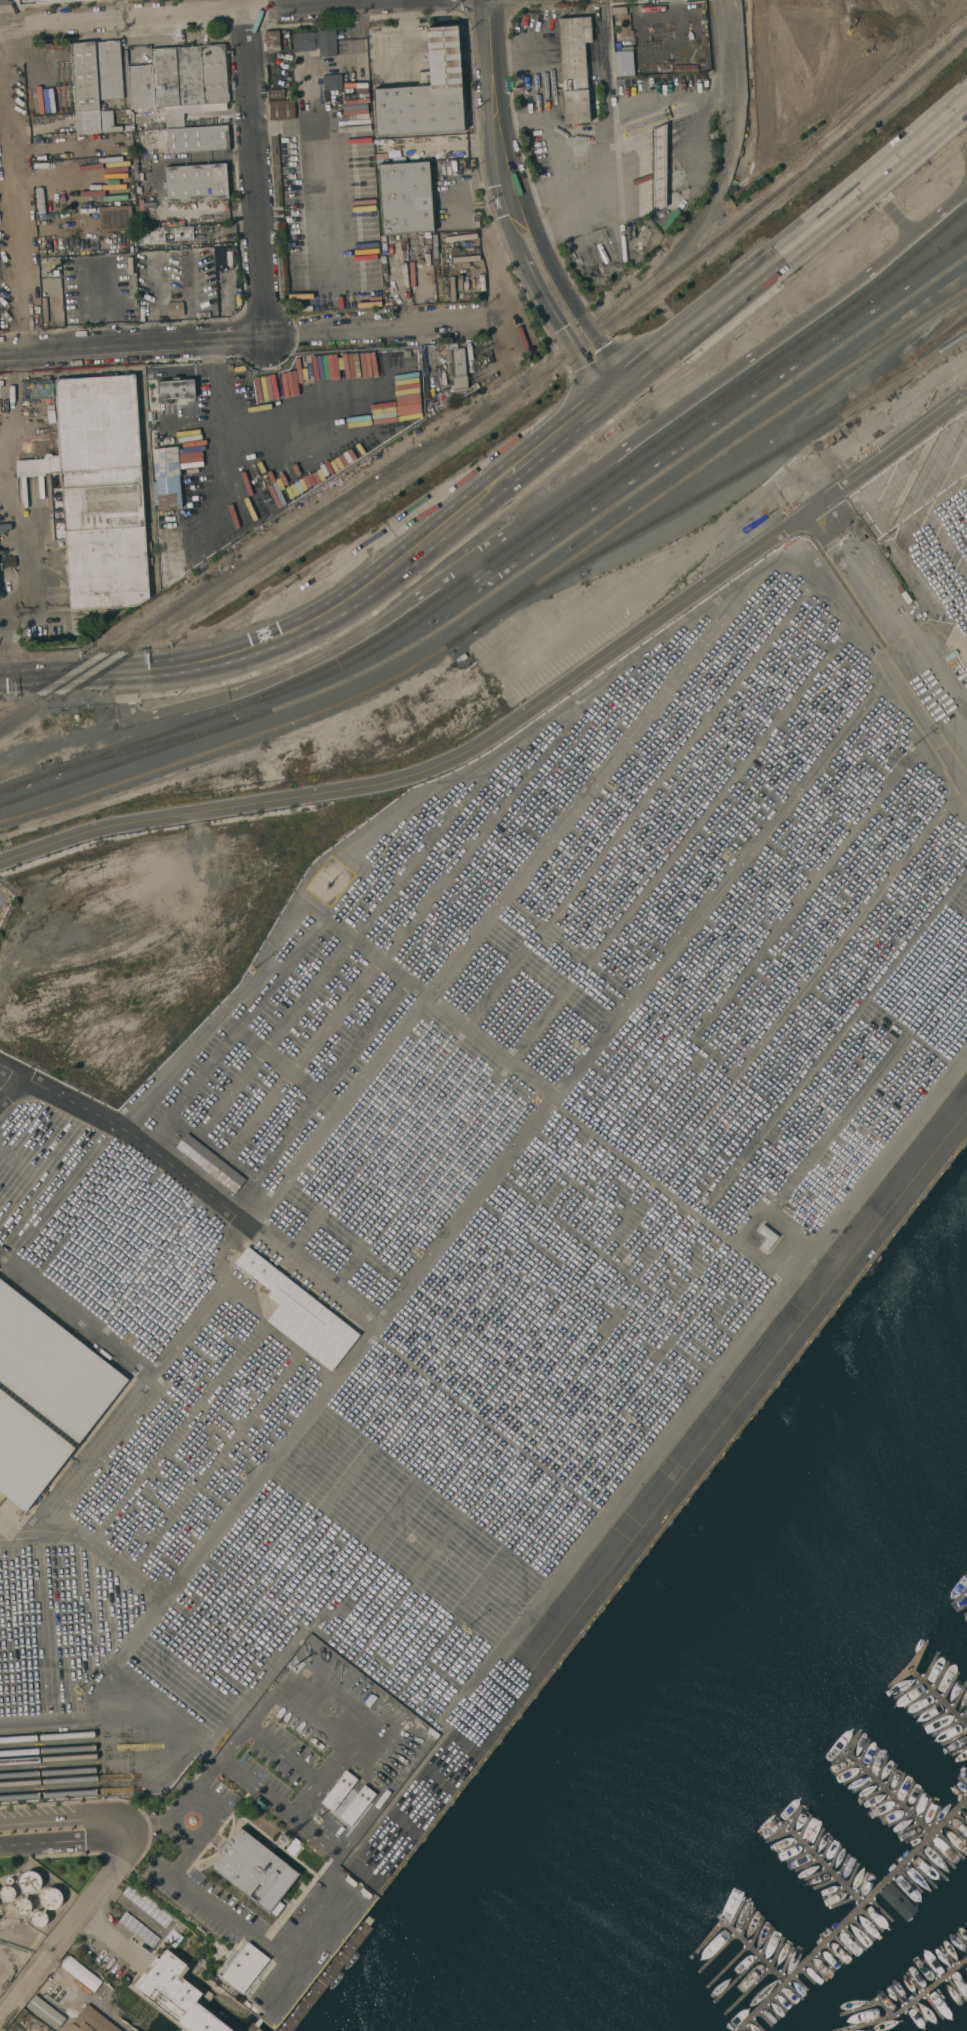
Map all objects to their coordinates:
building: (52, 1)
road: (119, 8)
road: (192, 12)
building: (647, 16)
building: (625, 24)
road: (404, 33)
building: (273, 41)
building: (304, 41)
building: (326, 41)
road: (516, 45)
building: (828, 46)
building: (574, 67)
building: (110, 70)
building: (215, 73)
building: (190, 75)
building: (167, 76)
building: (332, 81)
road: (740, 85)
building: (141, 87)
building: (90, 92)
building: (427, 92)
building: (277, 93)
building: (282, 109)
road: (498, 110)
building: (175, 122)
road: (550, 134)
building: (198, 139)
road: (611, 140)
road: (202, 156)
building: (193, 157)
road: (252, 167)
building: (659, 167)
building: (195, 182)
building: (406, 198)
road: (10, 202)
building: (186, 206)
railway: (752, 209)
building: (112, 220)
railway: (697, 222)
building: (183, 233)
building: (152, 236)
building: (447, 237)
railway: (953, 241)
building: (435, 245)
road: (498, 287)
road: (570, 299)
road: (554, 307)
building: (175, 308)
road: (382, 327)
railway: (947, 334)
railway: (925, 341)
road: (131, 344)
building: (459, 369)
railway: (903, 374)
railway: (740, 387)
building: (176, 389)
road: (587, 408)
railway: (713, 433)
railway: (720, 450)
building: (166, 463)
railway: (603, 477)
railway: (728, 479)
building: (98, 491)
road: (19, 515)
building: (169, 520)
railway: (265, 556)
railway: (507, 556)
building: (172, 564)
railway: (238, 565)
road: (851, 574)
building: (78, 626)
road: (88, 673)
road: (521, 714)
railway: (236, 721)
railway: (246, 737)
railway: (146, 746)
railway: (13, 785)
road: (490, 913)
road: (11, 1087)
road: (606, 1139)
parking lot: (479, 1166)
building: (219, 1170)
building: (767, 1237)
road: (312, 1277)
building: (301, 1313)
building: (44, 1395)
road: (652, 1456)
road: (143, 1622)
pier: (938, 1694)
road: (305, 1708)
railway: (48, 1738)
railway: (49, 1752)
railway: (49, 1761)
railway: (49, 1775)
railway: (50, 1783)
building: (339, 1790)
pier: (890, 1791)
railway: (50, 1796)
building: (357, 1805)
road: (155, 1821)
road: (51, 1829)
pier: (825, 1863)
building: (254, 1869)
building: (31, 1882)
storage tank: (31, 1882)
building: (8, 1893)
storage tank: (8, 1893)
building: (51, 1897)
storage tank: (51, 1897)
building: (897, 1900)
building: (24, 1905)
storage tank: (24, 1905)
building: (147, 1905)
road: (76, 1914)
pier: (852, 1914)
building: (40, 1918)
storage tank: (40, 1918)
building: (180, 1927)
road: (244, 1927)
building: (139, 1929)
road: (110, 1937)
pier: (753, 1948)
building: (202, 1962)
building: (245, 1967)
building: (80, 1973)
building: (178, 1993)
pier: (910, 2005)
building: (46, 2012)
building: (92, 2021)

